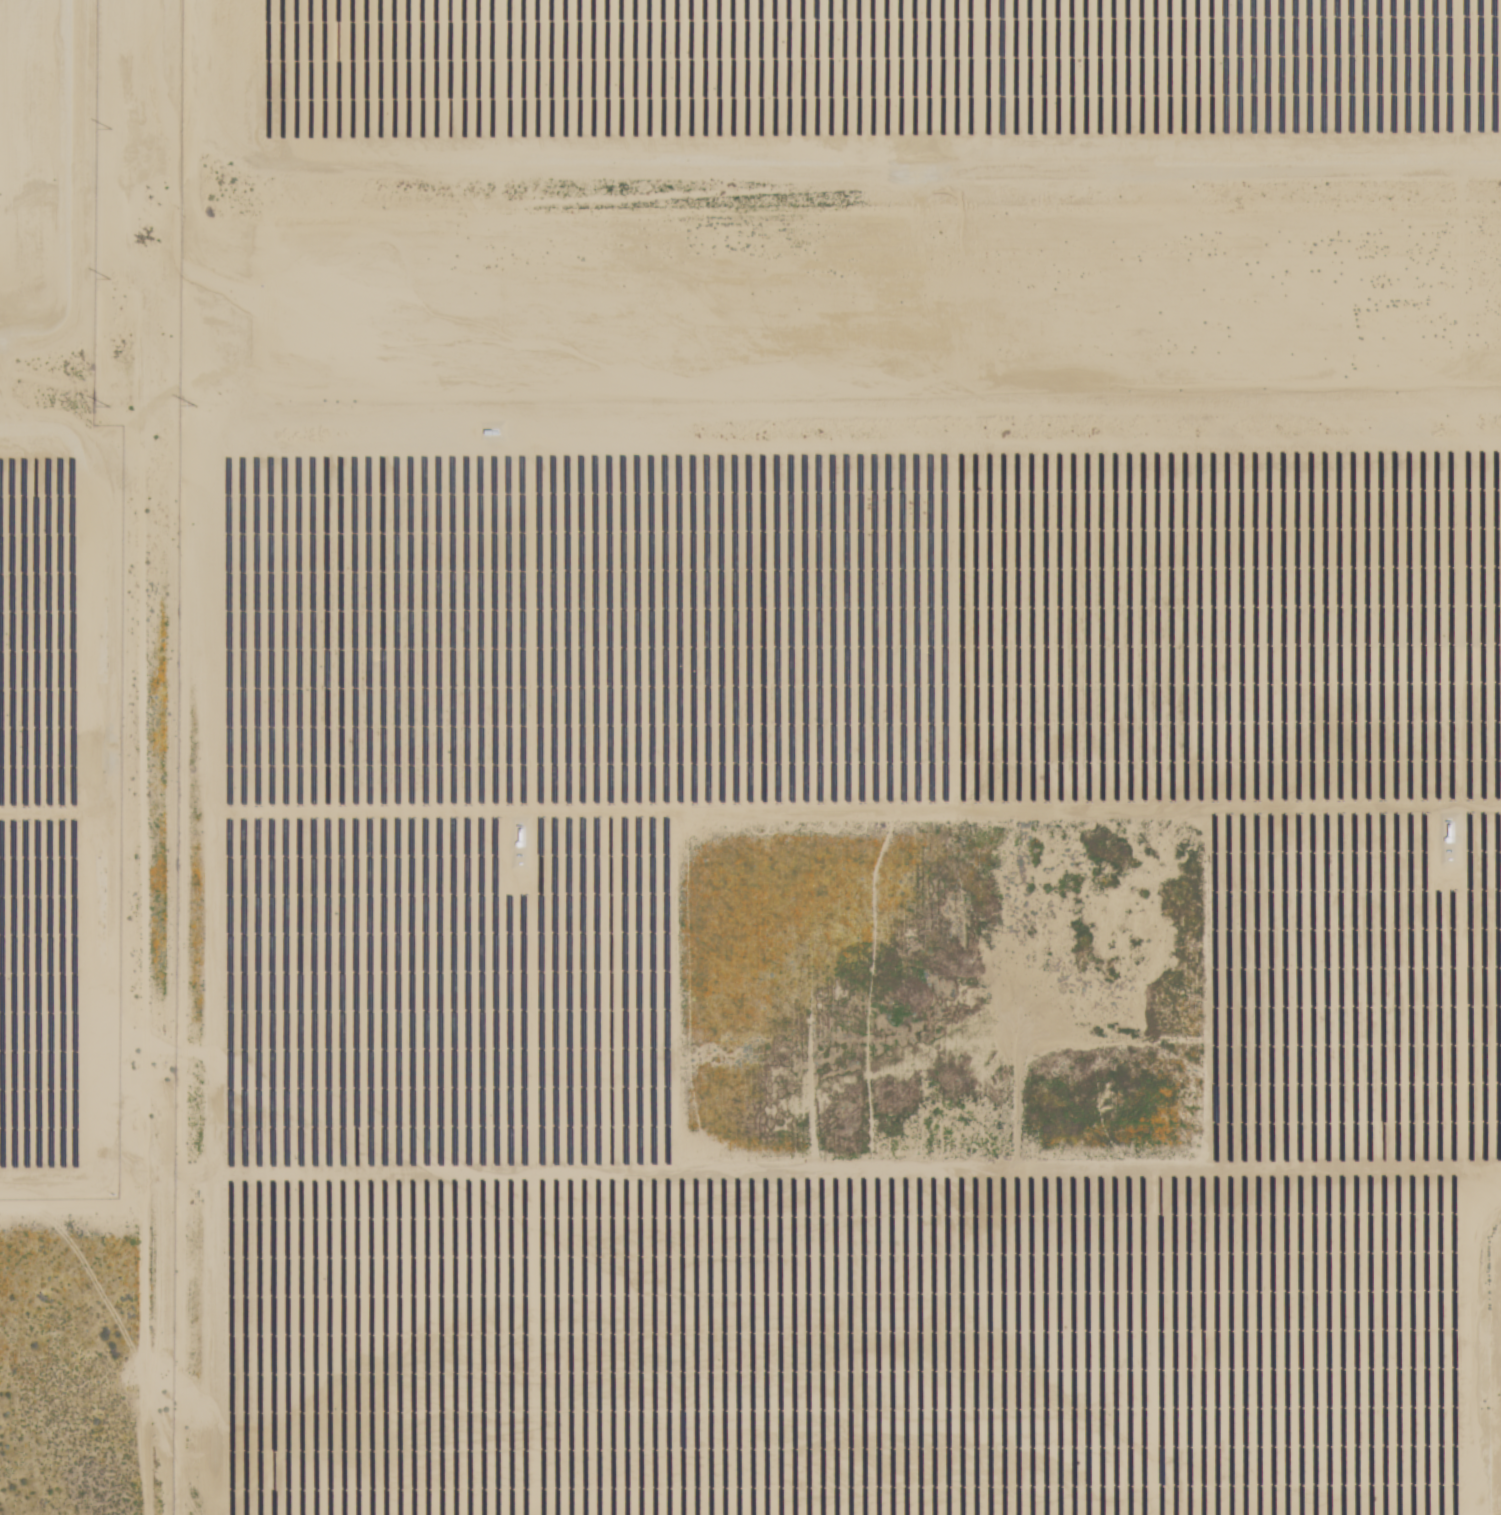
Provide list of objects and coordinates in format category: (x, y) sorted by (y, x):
solar farm: (55, 609)
road: (140, 747)
solar farm: (845, 757)

